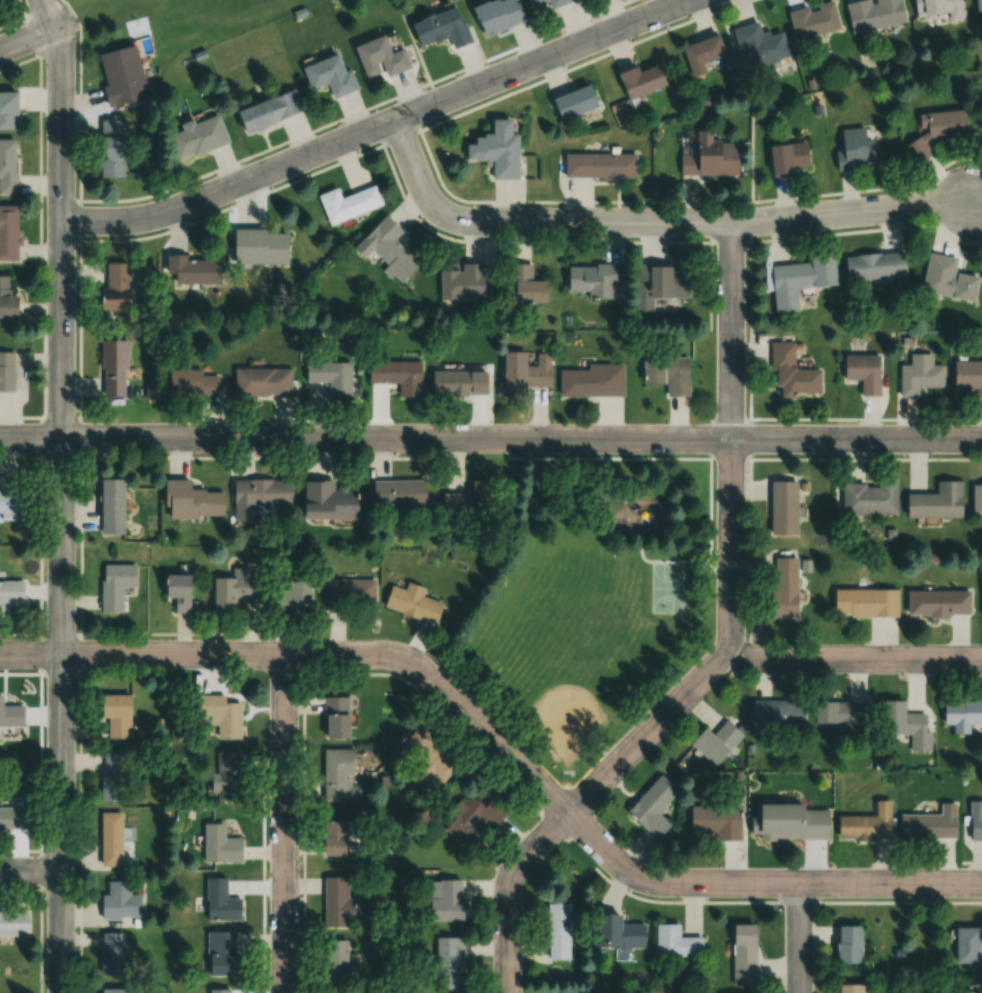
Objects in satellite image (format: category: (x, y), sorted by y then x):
building: (542, 4)
building: (978, 5)
building: (936, 6)
building: (874, 13)
building: (496, 15)
building: (813, 19)
building: (440, 27)
road: (37, 35)
building: (760, 43)
building: (701, 53)
building: (379, 58)
building: (120, 75)
building: (329, 76)
building: (639, 80)
building: (573, 102)
road: (80, 108)
building: (7, 110)
building: (267, 110)
building: (980, 126)
road: (381, 127)
building: (935, 130)
building: (196, 137)
building: (111, 148)
building: (853, 149)
building: (495, 153)
building: (710, 158)
building: (786, 158)
building: (7, 166)
building: (592, 171)
building: (342, 207)
road: (655, 227)
building: (8, 232)
building: (259, 247)
building: (387, 248)
building: (873, 265)
building: (190, 270)
building: (946, 277)
building: (591, 279)
building: (797, 280)
building: (462, 282)
building: (658, 283)
building: (526, 285)
building: (114, 287)
building: (7, 300)
building: (112, 368)
building: (791, 372)
building: (863, 372)
building: (523, 373)
building: (667, 373)
building: (329, 375)
building: (396, 375)
building: (919, 375)
building: (967, 377)
building: (6, 378)
building: (592, 381)
building: (262, 382)
building: (457, 382)
building: (192, 383)
road: (490, 441)
road: (735, 444)
building: (260, 492)
building: (398, 493)
road: (62, 494)
building: (869, 498)
building: (977, 499)
building: (9, 500)
building: (191, 500)
building: (327, 500)
building: (469, 500)
building: (936, 501)
building: (111, 506)
building: (783, 507)
building: (115, 585)
park: (667, 587)
building: (785, 587)
building: (234, 590)
building: (177, 591)
building: (11, 592)
building: (350, 592)
building: (291, 598)
building: (412, 602)
building: (864, 602)
park: (598, 603)
building: (938, 603)
park: (569, 657)
building: (777, 712)
building: (11, 714)
building: (116, 715)
building: (840, 715)
building: (962, 715)
building: (220, 716)
building: (336, 717)
building: (900, 719)
road: (670, 722)
building: (715, 741)
road: (503, 747)
building: (427, 754)
building: (113, 777)
building: (226, 777)
building: (339, 777)
building: (653, 806)
building: (13, 818)
building: (716, 820)
building: (472, 821)
building: (791, 821)
building: (866, 823)
building: (929, 824)
road: (289, 827)
building: (975, 827)
building: (333, 838)
building: (111, 839)
building: (220, 844)
road: (31, 869)
building: (445, 900)
building: (119, 902)
building: (220, 902)
building: (337, 902)
building: (14, 924)
building: (557, 931)
building: (617, 932)
road: (804, 940)
building: (675, 942)
building: (848, 944)
building: (965, 945)
building: (222, 953)
building: (743, 954)
building: (111, 955)
building: (447, 961)
building: (337, 963)
building: (848, 988)
building: (114, 990)
building: (218, 990)

